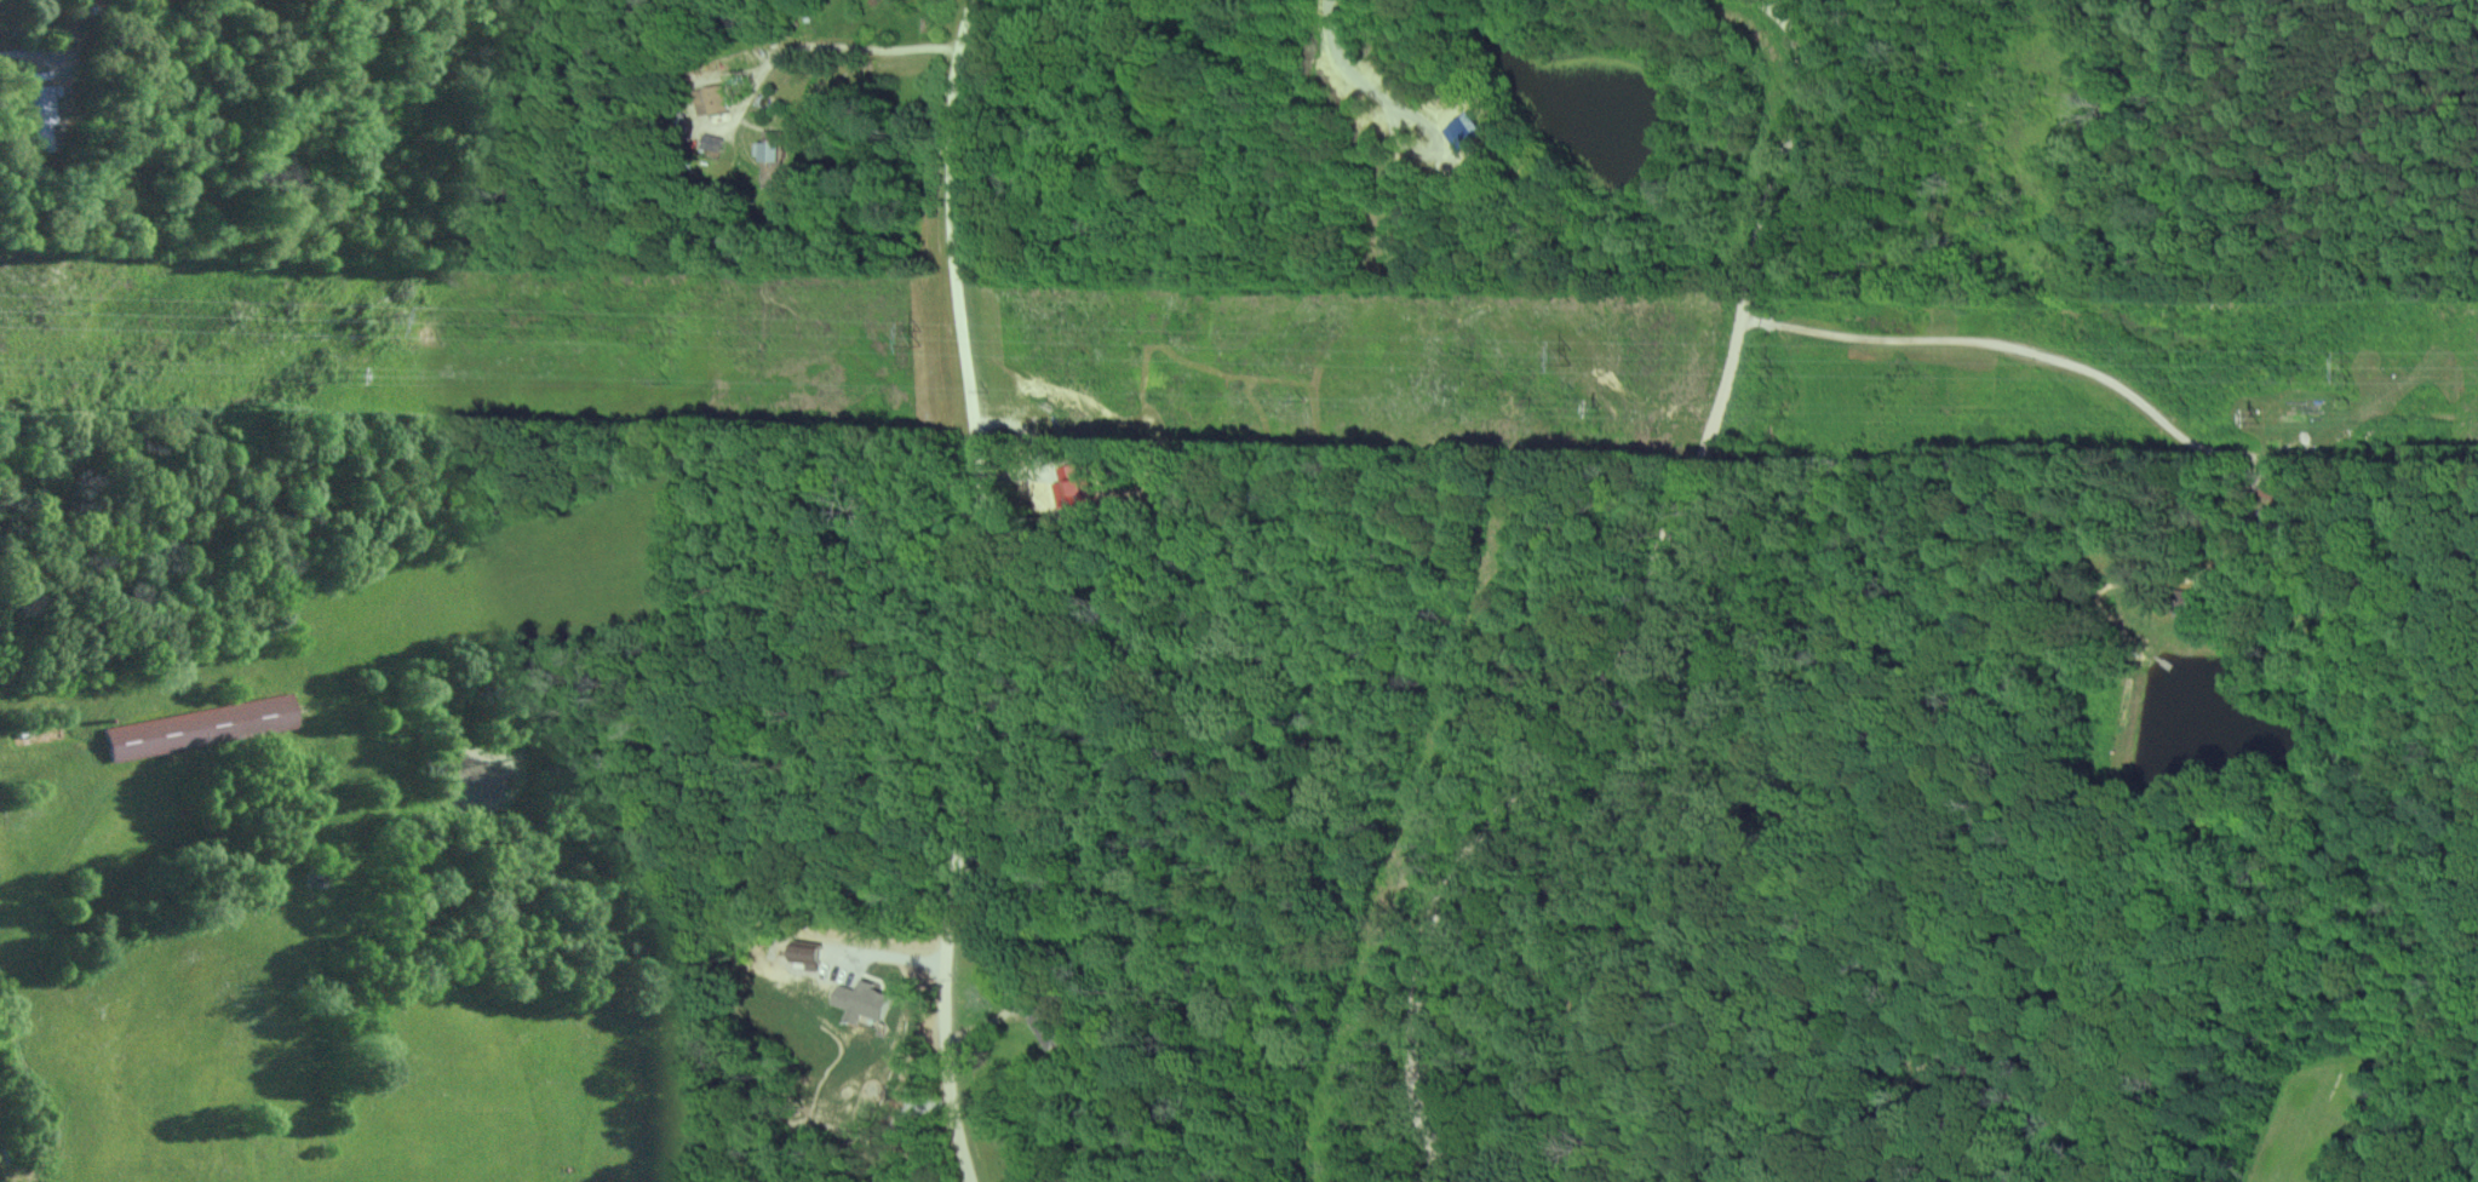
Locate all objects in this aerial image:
road: (1769, 13)
road: (1809, 19)
road: (826, 46)
road: (19, 52)
road: (2170, 71)
road: (1363, 86)
building: (710, 101)
building: (33, 116)
building: (769, 162)
power tower: (389, 317)
power tower: (930, 334)
power tower: (1571, 356)
road: (2058, 362)
power tower: (2358, 365)
power tower: (358, 372)
power tower: (682, 379)
power tower: (999, 389)
power tower: (1608, 411)
power tower: (2267, 414)
building: (1077, 488)
road: (981, 590)
road: (1631, 626)
building: (197, 727)
building: (860, 1003)
building: (1050, 1028)

